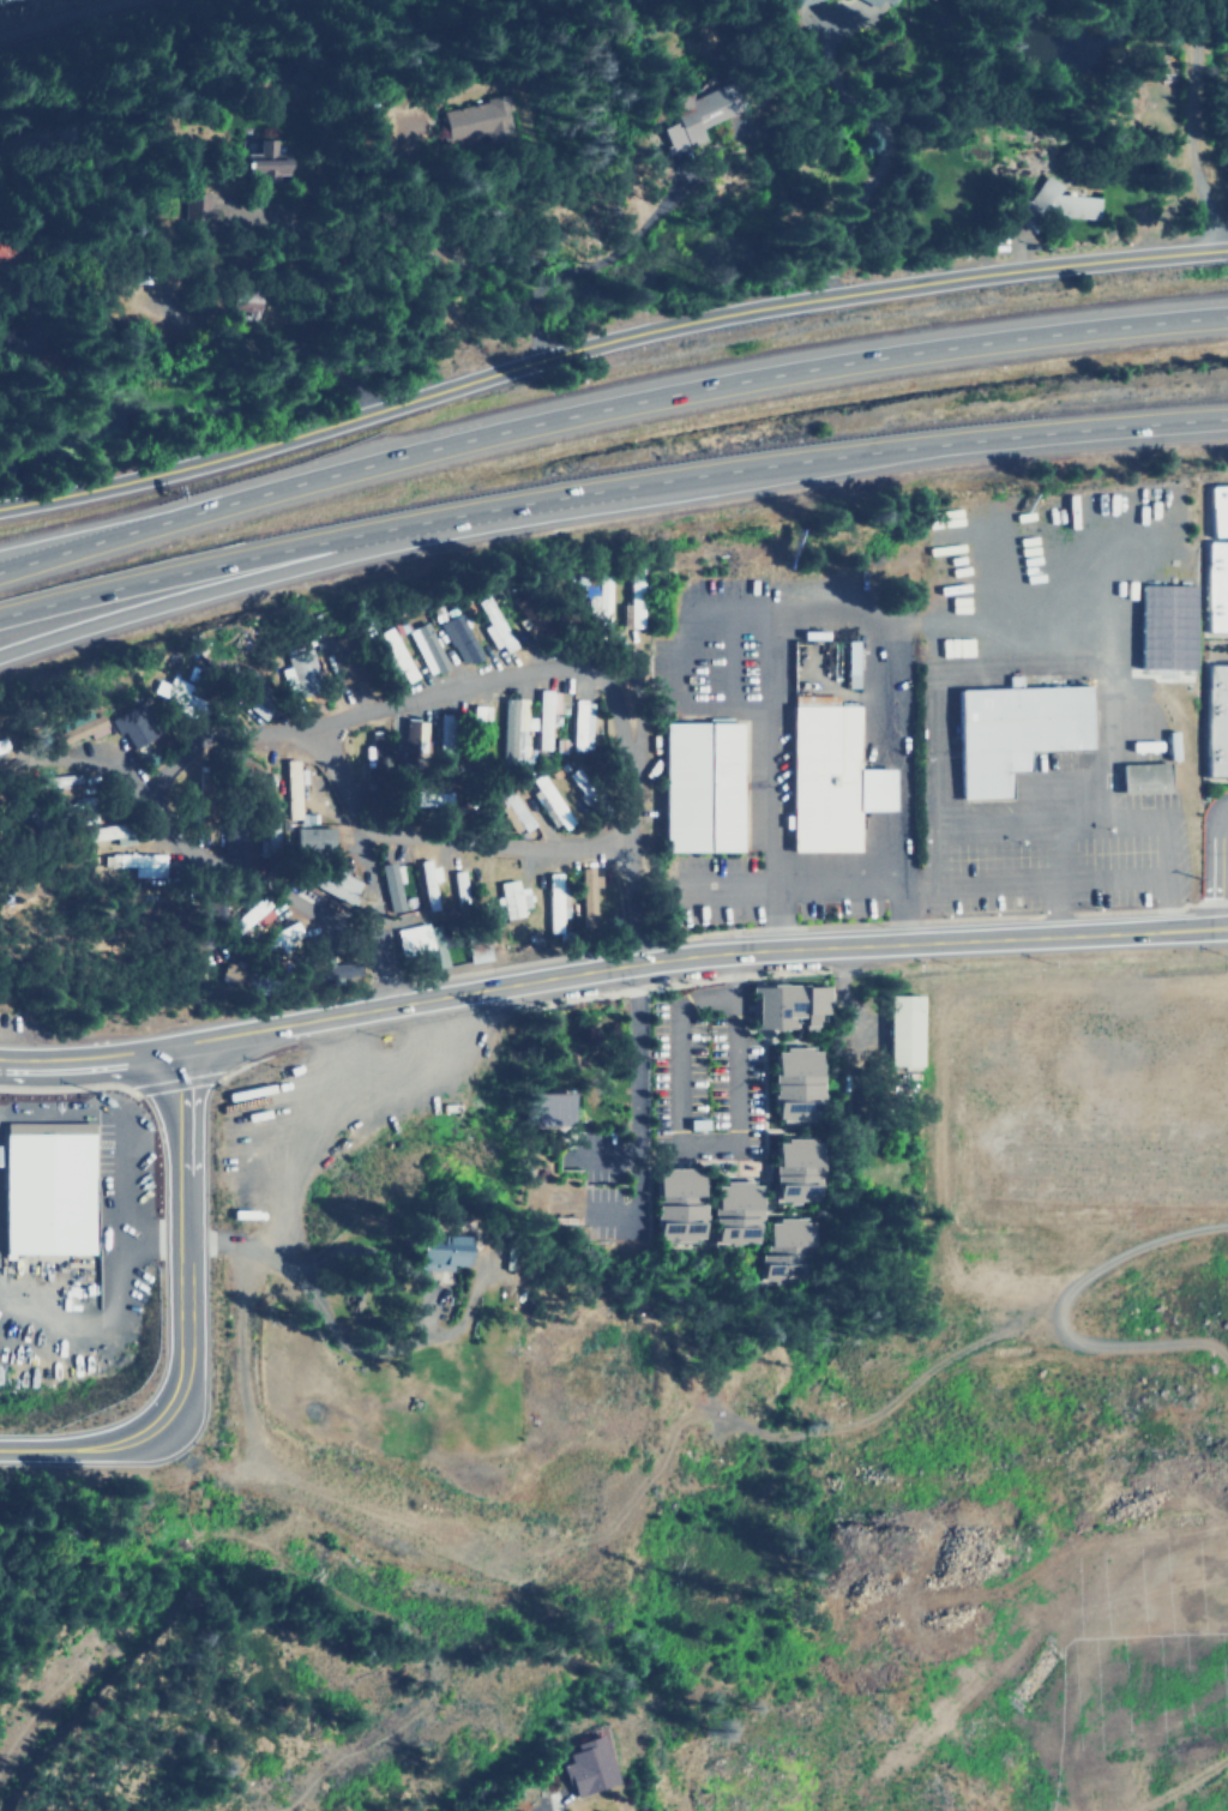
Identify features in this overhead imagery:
building: (843, 2)
railway: (85, 20)
building: (690, 114)
building: (476, 120)
road: (1190, 122)
road: (875, 158)
building: (263, 161)
building: (1057, 199)
building: (195, 206)
building: (2, 257)
building: (235, 301)
road: (606, 339)
road: (606, 404)
road: (609, 491)
building: (1217, 507)
road: (32, 554)
road: (257, 576)
building: (1216, 586)
building: (633, 600)
building: (598, 601)
building: (492, 625)
building: (1163, 625)
building: (457, 638)
building: (425, 648)
building: (393, 655)
building: (850, 656)
building: (300, 672)
building: (177, 691)
building: (544, 717)
building: (1216, 722)
building: (582, 724)
building: (130, 726)
building: (74, 727)
building: (510, 727)
building: (444, 732)
building: (1012, 732)
building: (411, 733)
building: (1170, 744)
building: (1140, 776)
building: (832, 777)
building: (53, 781)
building: (700, 787)
building: (291, 788)
road: (348, 789)
building: (552, 800)
building: (511, 808)
building: (101, 832)
building: (234, 841)
building: (313, 841)
road: (185, 855)
building: (136, 862)
road: (1222, 870)
building: (337, 882)
building: (429, 882)
building: (459, 885)
building: (390, 886)
building: (586, 894)
building: (513, 898)
building: (554, 902)
road: (637, 908)
building: (252, 914)
road: (1226, 927)
building: (279, 935)
building: (416, 944)
building: (476, 950)
building: (330, 969)
road: (608, 970)
building: (785, 1006)
building: (904, 1029)
building: (793, 1084)
building: (547, 1108)
road: (679, 1132)
road: (308, 1139)
building: (795, 1169)
building: (43, 1192)
building: (676, 1204)
building: (736, 1213)
road: (186, 1232)
building: (785, 1247)
building: (435, 1251)
road: (88, 1448)
road: (357, 1607)
road: (55, 1681)
building: (586, 1765)
road: (529, 1800)

